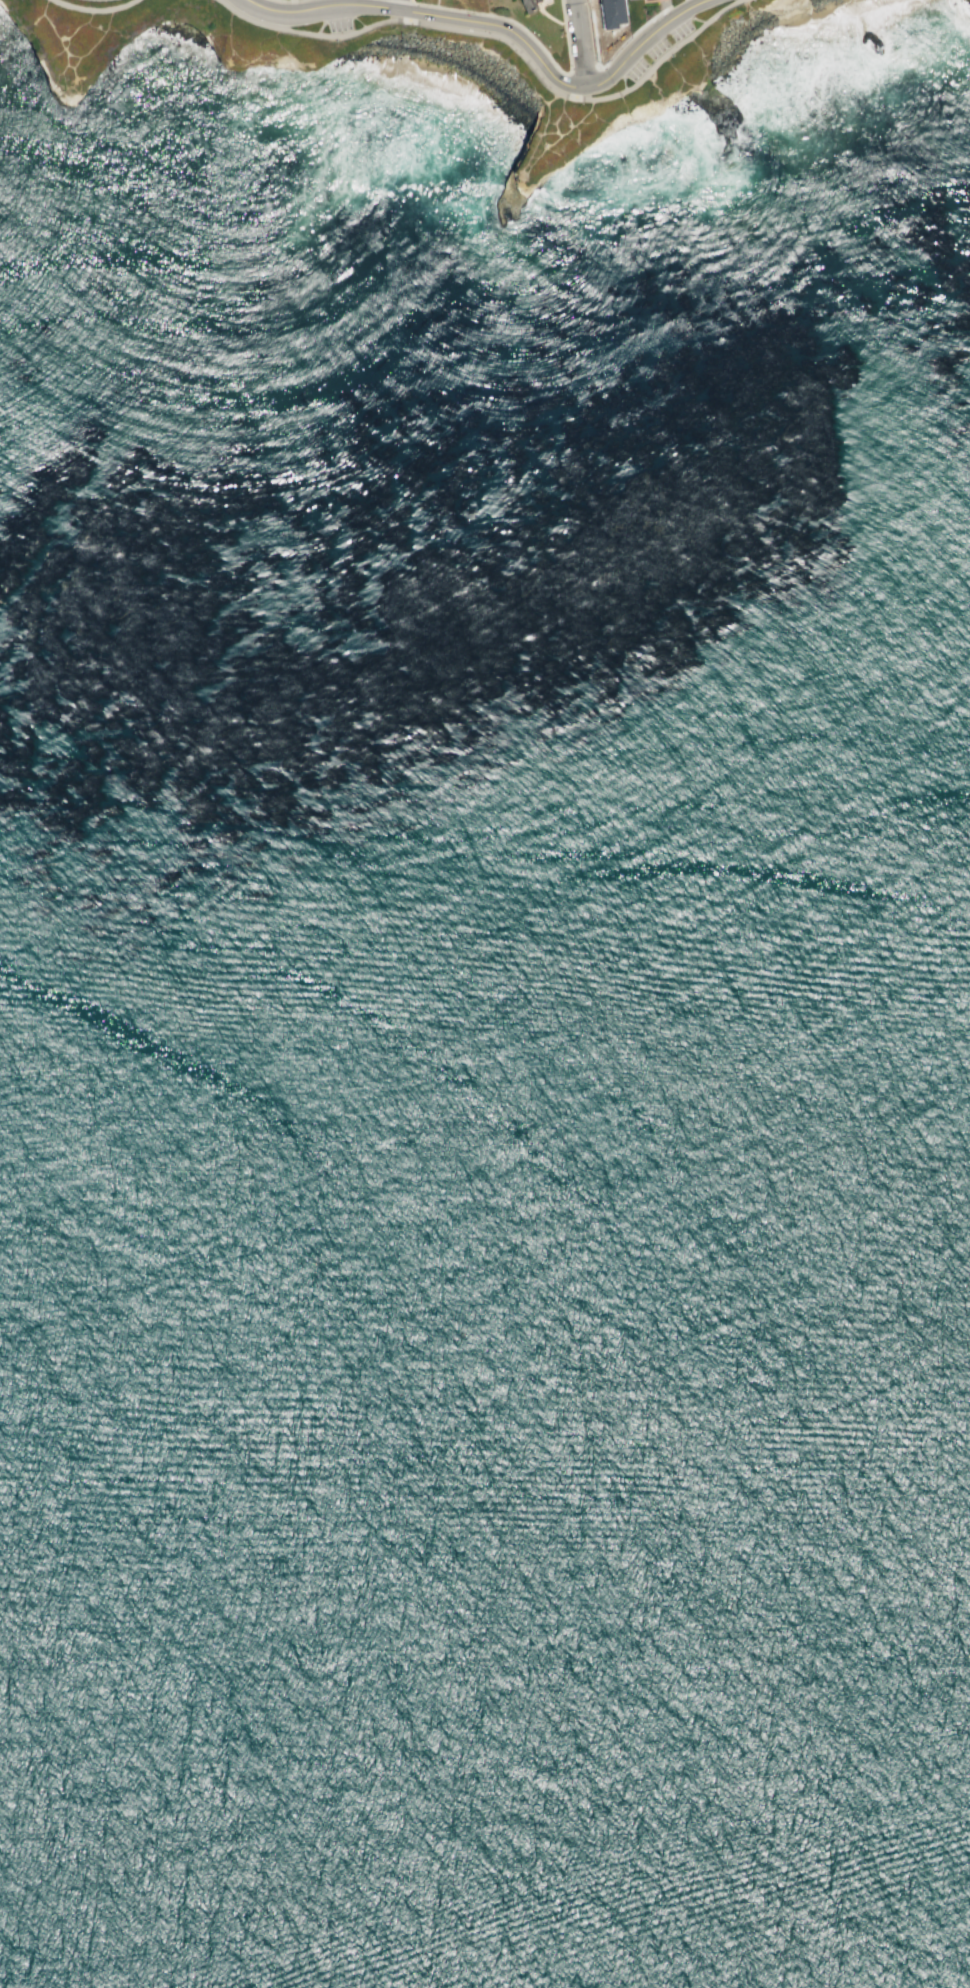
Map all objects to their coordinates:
building: (636, 0)
road: (289, 1)
road: (405, 2)
road: (397, 5)
building: (533, 5)
road: (95, 9)
road: (664, 11)
building: (611, 12)
road: (500, 18)
parking lot: (338, 23)
road: (504, 28)
road: (502, 36)
road: (567, 38)
road: (582, 43)
parking lot: (660, 49)

